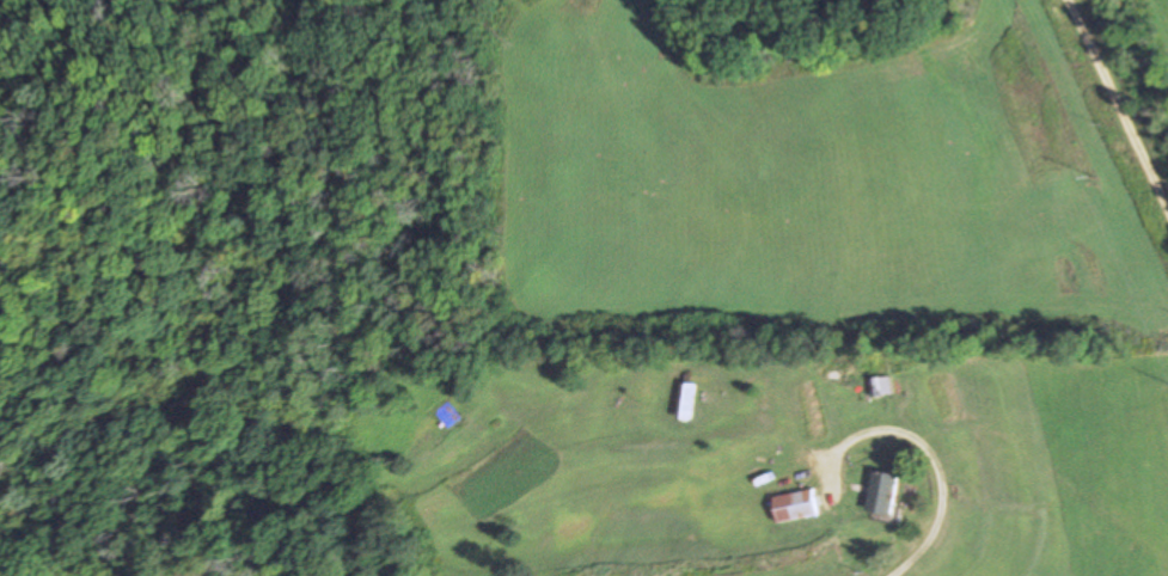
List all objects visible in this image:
road: (1118, 108)
building: (880, 492)
building: (795, 505)
road: (940, 508)

